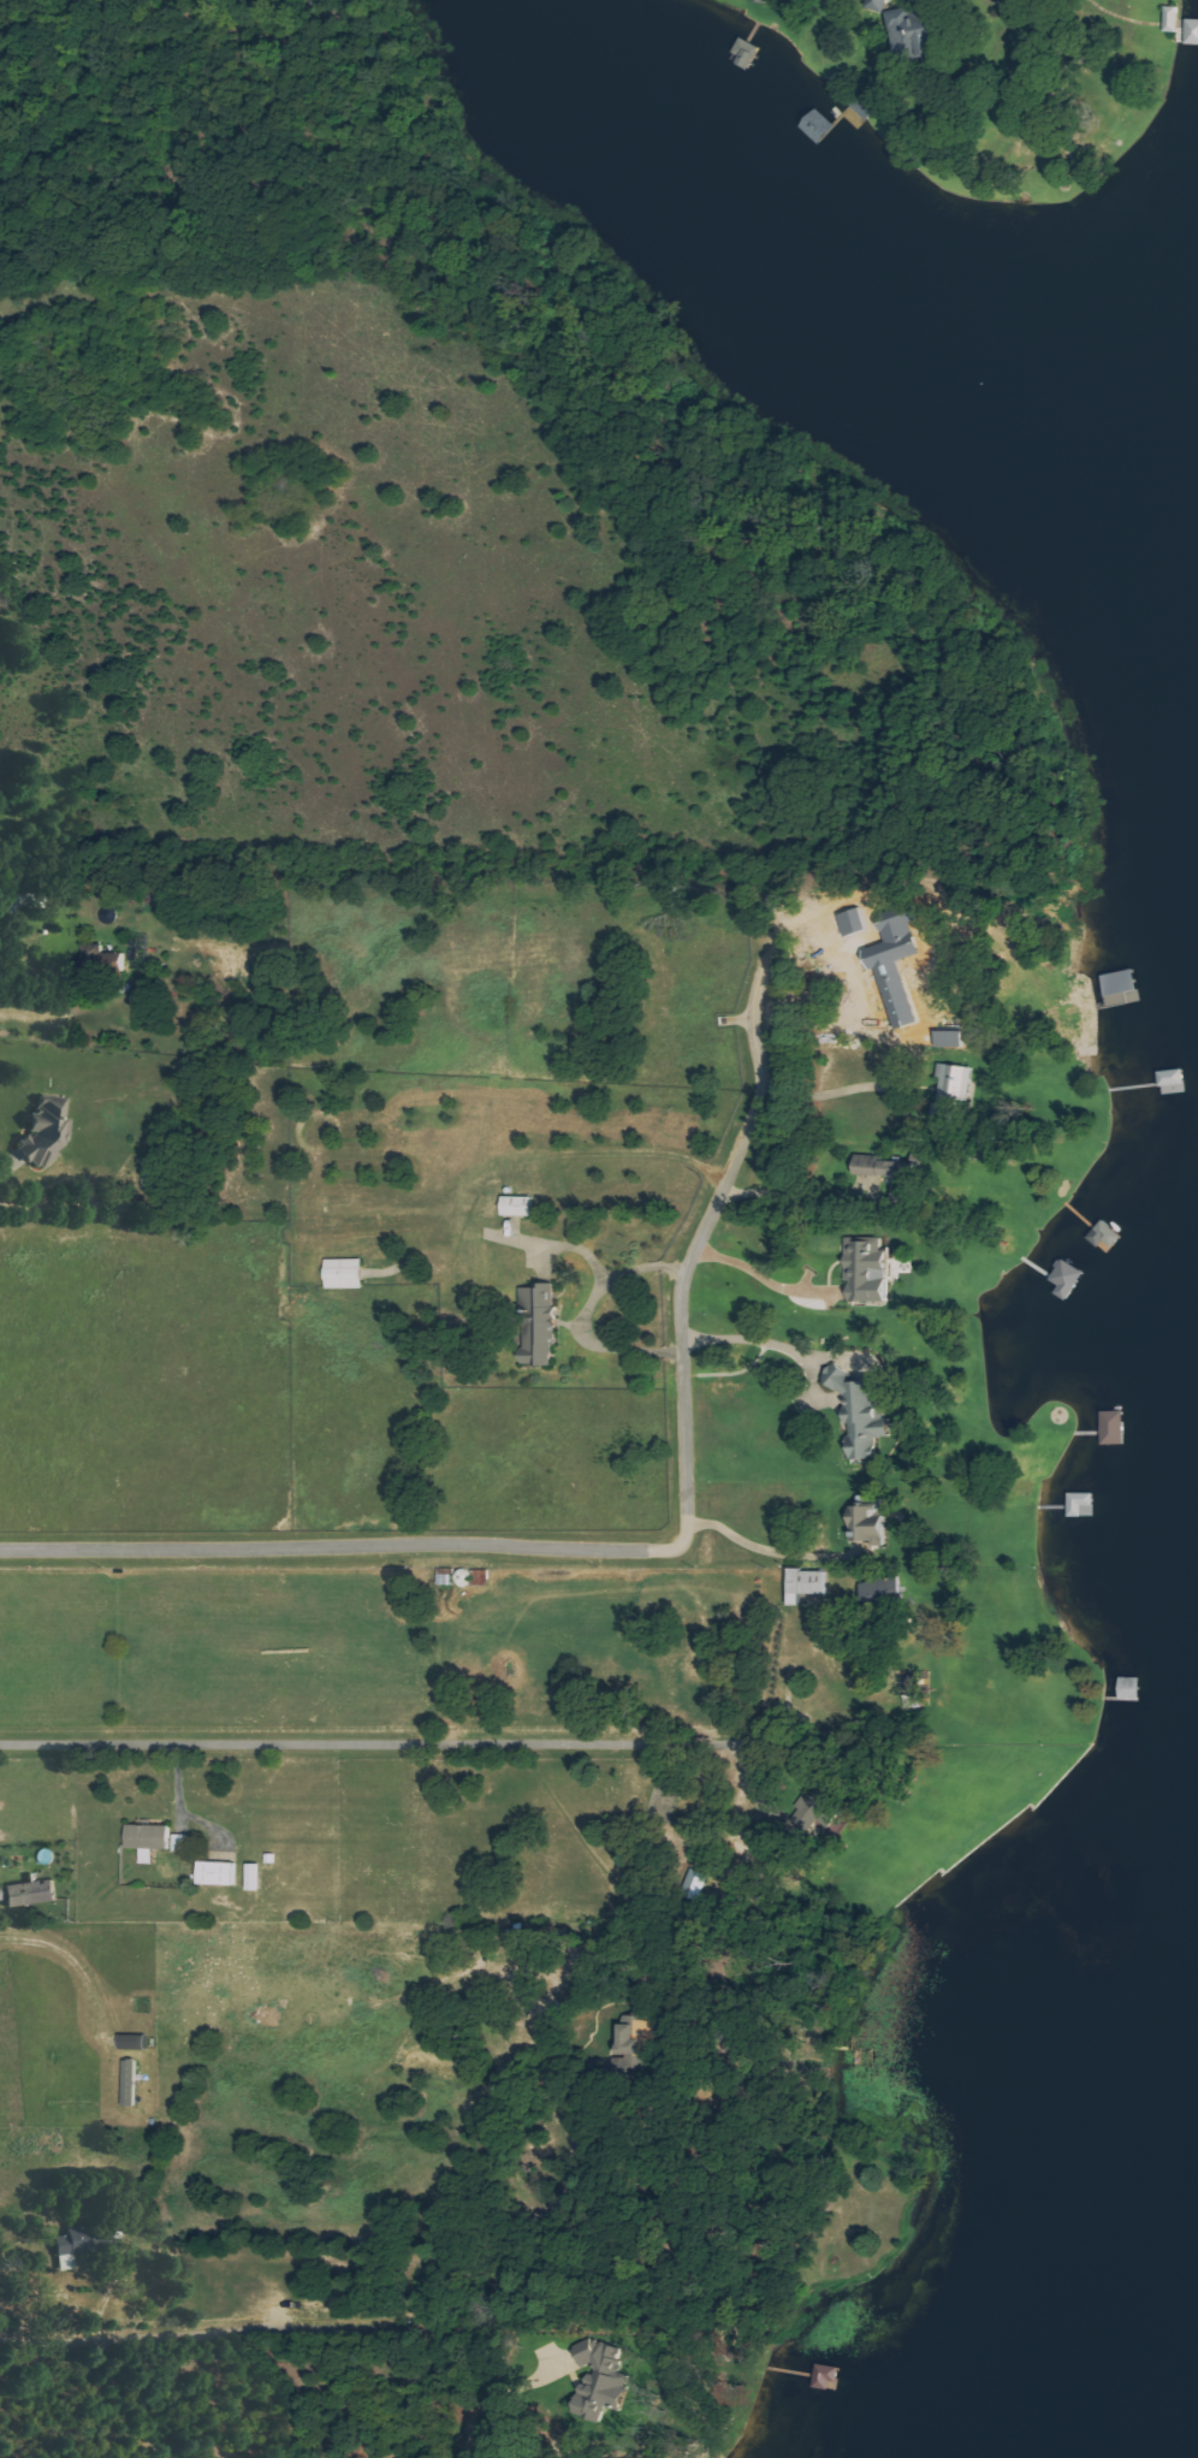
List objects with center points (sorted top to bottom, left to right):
building: (880, 5)
building: (1173, 19)
building: (1192, 32)
building: (914, 36)
building: (819, 126)
building: (11, 905)
building: (1125, 978)
building: (954, 1092)
building: (47, 1132)
building: (880, 1168)
building: (154, 1172)
building: (509, 1206)
building: (1105, 1236)
building: (868, 1269)
building: (346, 1273)
building: (539, 1325)
building: (861, 1414)
building: (1115, 1427)
building: (870, 1521)
road: (645, 1551)
building: (808, 1585)
road: (346, 1743)
building: (819, 1806)
building: (149, 1835)
building: (182, 1842)
building: (147, 1854)
building: (218, 1872)
building: (255, 1876)
building: (31, 1893)
building: (627, 2036)
building: (134, 2041)
building: (73, 2245)
building: (829, 2376)
building: (605, 2380)
road: (485, 2432)

